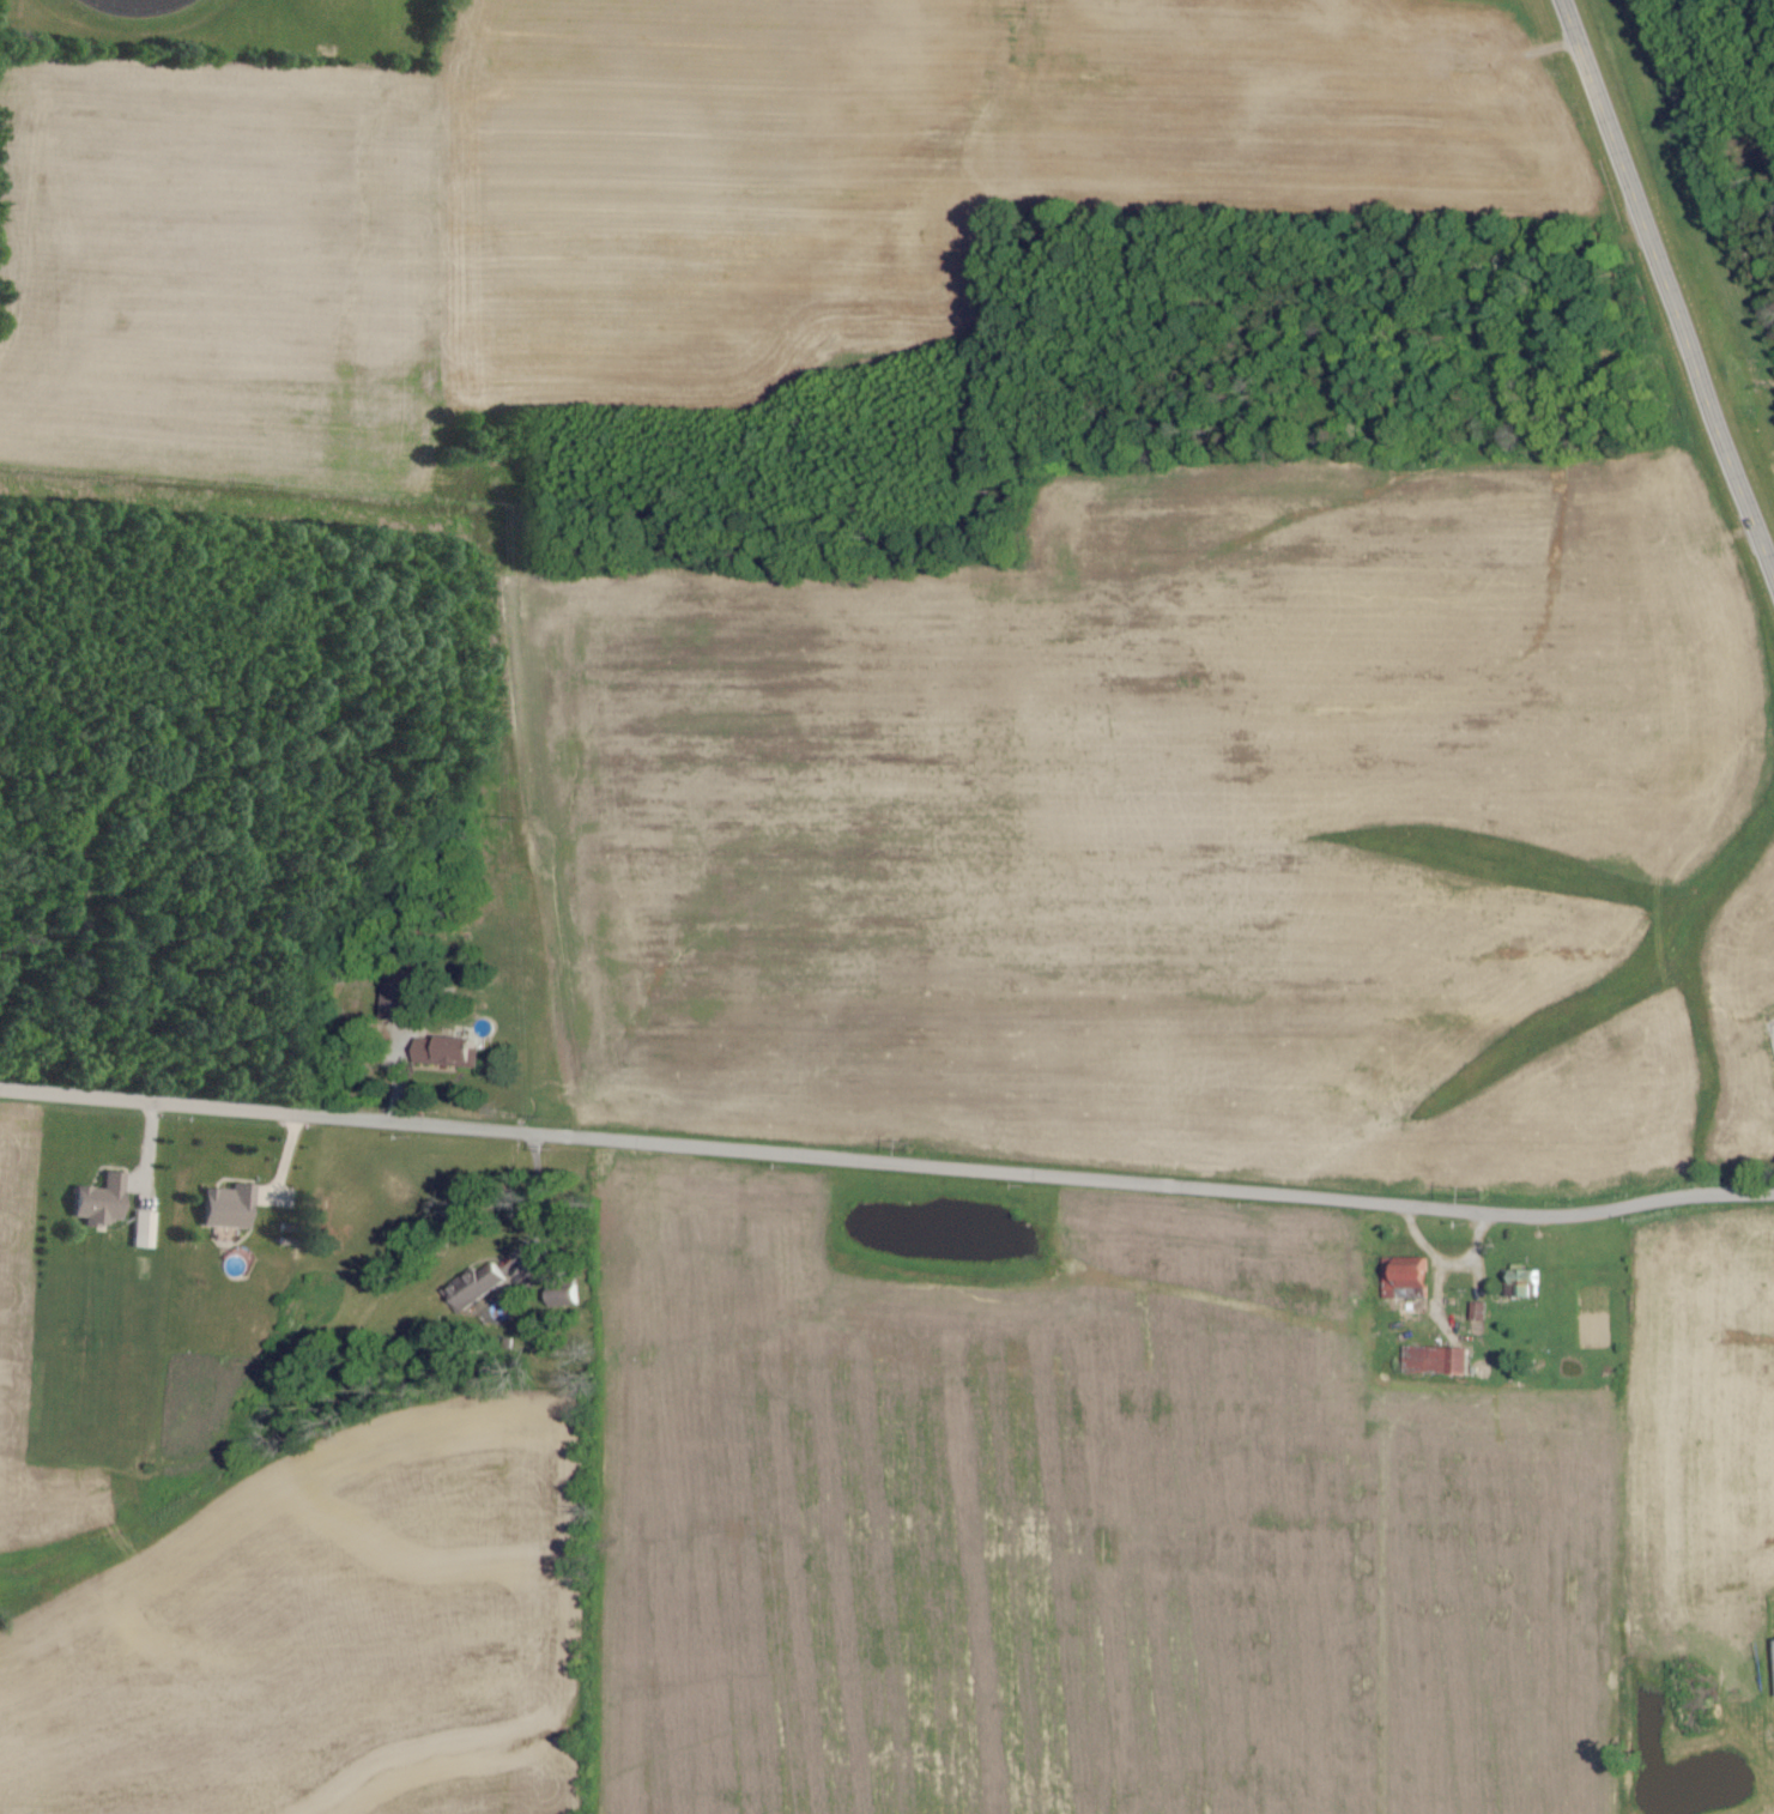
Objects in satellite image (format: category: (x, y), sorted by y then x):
track: (137, 5)
road: (1667, 292)
building: (452, 1051)
road: (886, 1162)
building: (107, 1198)
building: (235, 1205)
road: (535, 1210)
building: (1410, 1275)
building: (482, 1286)
building: (1482, 1311)
building: (1441, 1360)
building: (1772, 1663)

